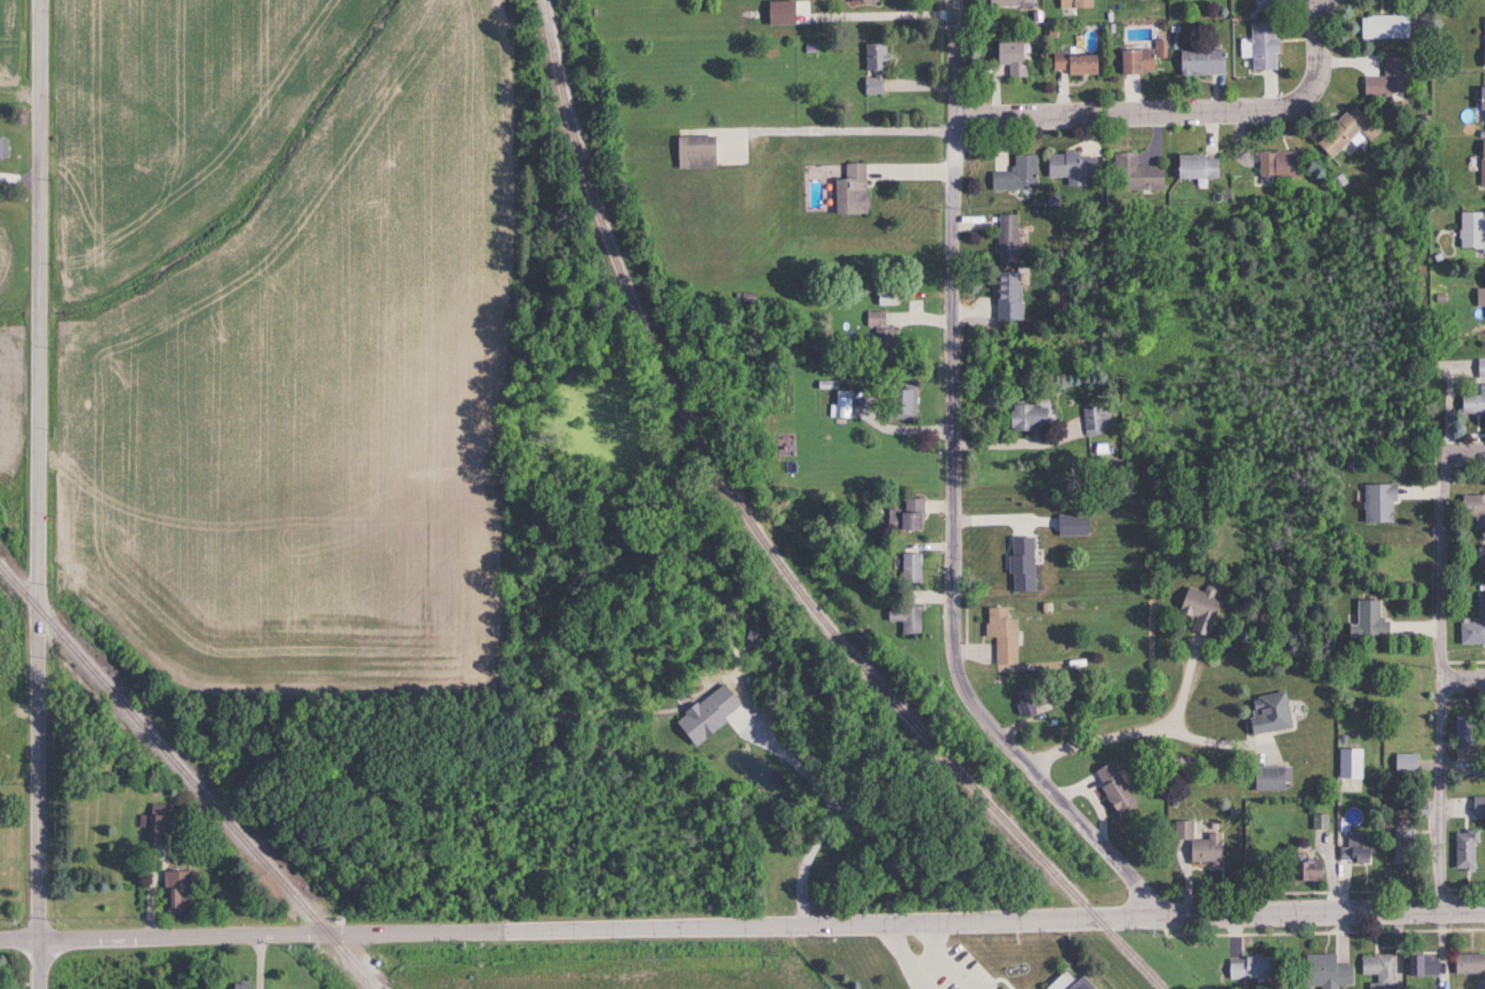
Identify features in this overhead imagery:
building: (863, 1)
building: (1010, 3)
building: (1074, 3)
building: (1263, 6)
building: (1383, 27)
building: (1483, 43)
building: (1262, 46)
building: (1011, 58)
building: (1135, 61)
building: (1201, 62)
building: (1072, 63)
building: (874, 69)
building: (1386, 80)
building: (1481, 106)
road: (1182, 111)
building: (1346, 132)
building: (2, 149)
building: (694, 153)
building: (1277, 164)
building: (1482, 164)
building: (1070, 167)
building: (1196, 167)
building: (1134, 174)
building: (1015, 176)
building: (850, 191)
building: (1472, 232)
building: (1007, 239)
building: (1484, 287)
building: (1006, 297)
building: (879, 336)
building: (1481, 369)
building: (899, 402)
building: (1473, 402)
building: (841, 404)
building: (1026, 417)
building: (1095, 420)
road: (1009, 448)
road: (1472, 450)
railway: (708, 468)
road: (38, 469)
road: (950, 494)
building: (1377, 504)
building: (1474, 510)
building: (905, 517)
building: (910, 568)
building: (993, 577)
building: (1030, 593)
building: (1480, 603)
building: (1199, 609)
building: (903, 614)
building: (1367, 621)
building: (1471, 633)
building: (1002, 635)
road: (1467, 679)
road: (1449, 680)
building: (1031, 697)
building: (1268, 712)
building: (1460, 734)
road: (1140, 735)
road: (1212, 747)
building: (1349, 762)
building: (1405, 762)
railway: (188, 778)
building: (1267, 778)
building: (1111, 785)
road: (808, 806)
building: (1419, 806)
building: (1478, 806)
building: (1319, 822)
building: (157, 823)
building: (1197, 843)
building: (1402, 846)
building: (1358, 849)
building: (1464, 849)
building: (1307, 869)
building: (175, 892)
railway: (1097, 918)
road: (762, 924)
road: (19, 939)
road: (905, 956)
road: (938, 961)
road: (39, 964)
building: (1421, 964)
building: (1468, 964)
building: (1246, 967)
building: (1378, 970)
building: (1324, 971)
building: (1067, 982)
building: (241, 986)

